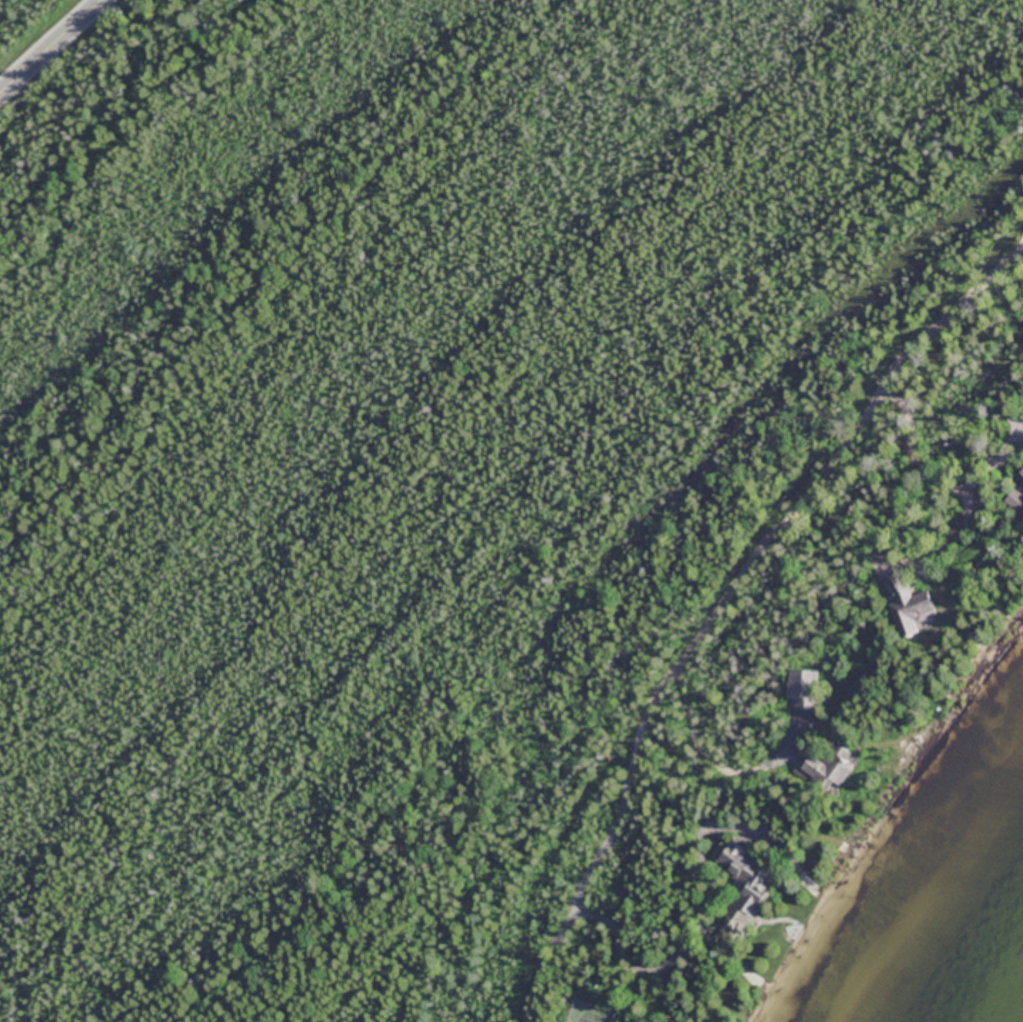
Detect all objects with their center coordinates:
road: (51, 48)
building: (1020, 470)
road: (727, 603)
building: (910, 609)
building: (804, 686)
building: (833, 772)
building: (741, 880)

